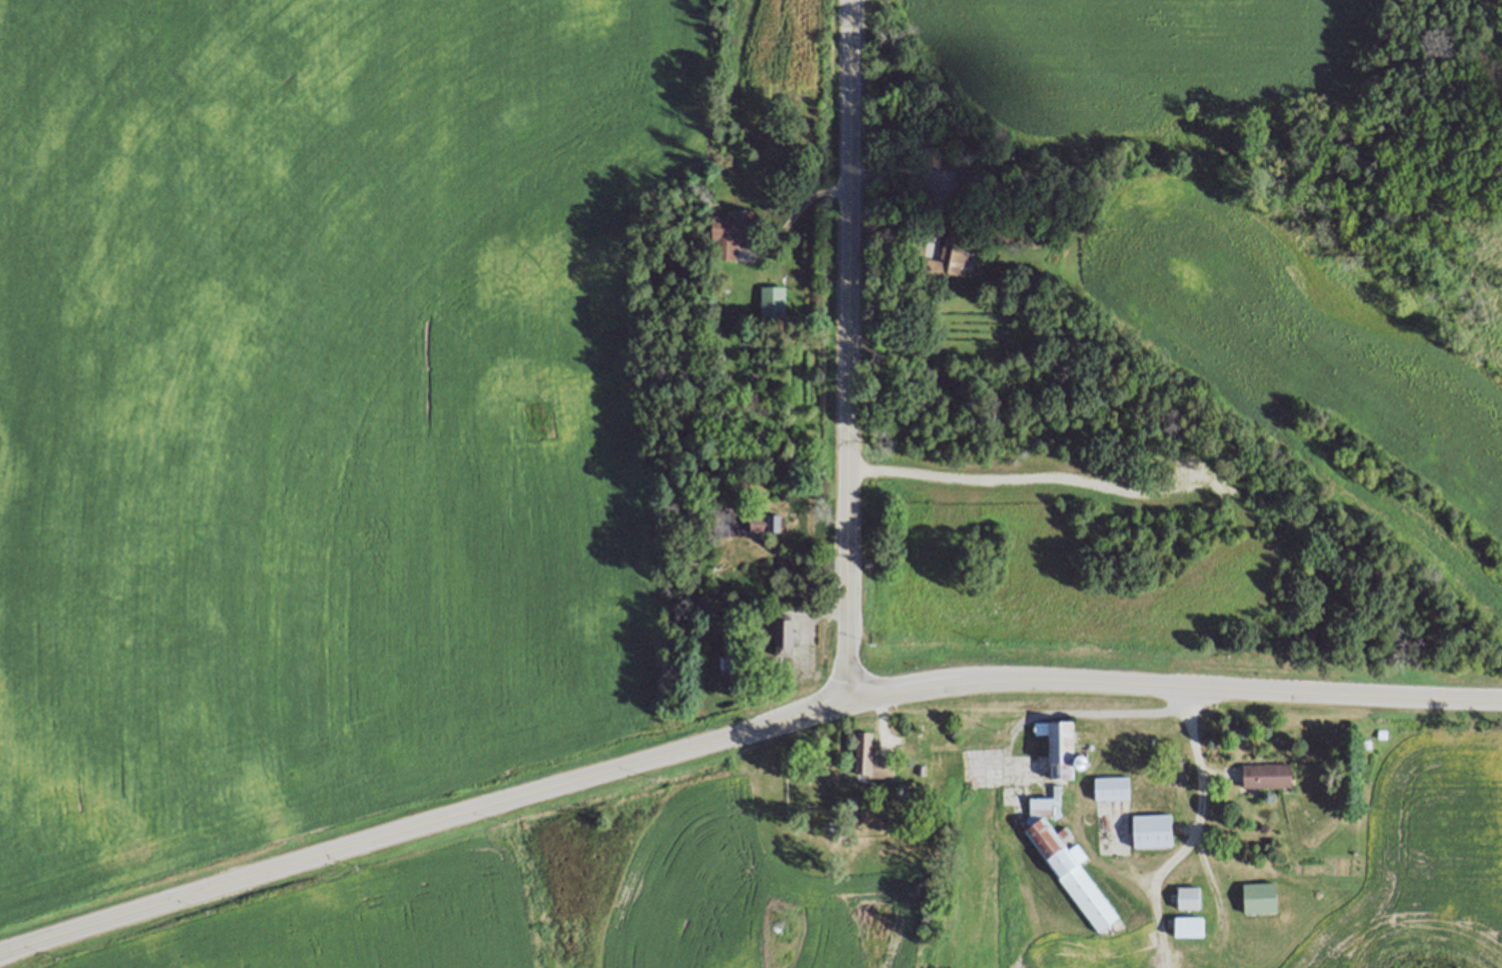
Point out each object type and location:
building: (1498, 38)
building: (933, 156)
building: (967, 176)
road: (800, 205)
building: (733, 231)
building: (946, 258)
building: (773, 301)
road: (847, 352)
building: (723, 520)
building: (764, 523)
building: (761, 615)
building: (783, 637)
building: (725, 665)
road: (1174, 686)
building: (1381, 734)
building: (1367, 744)
building: (870, 758)
building: (921, 769)
building: (1177, 771)
building: (1267, 775)
building: (1112, 787)
road: (423, 824)
building: (1063, 825)
road: (1195, 825)
building: (833, 827)
building: (1152, 830)
building: (1215, 847)
building: (1189, 897)
building: (1259, 898)
building: (1188, 925)

